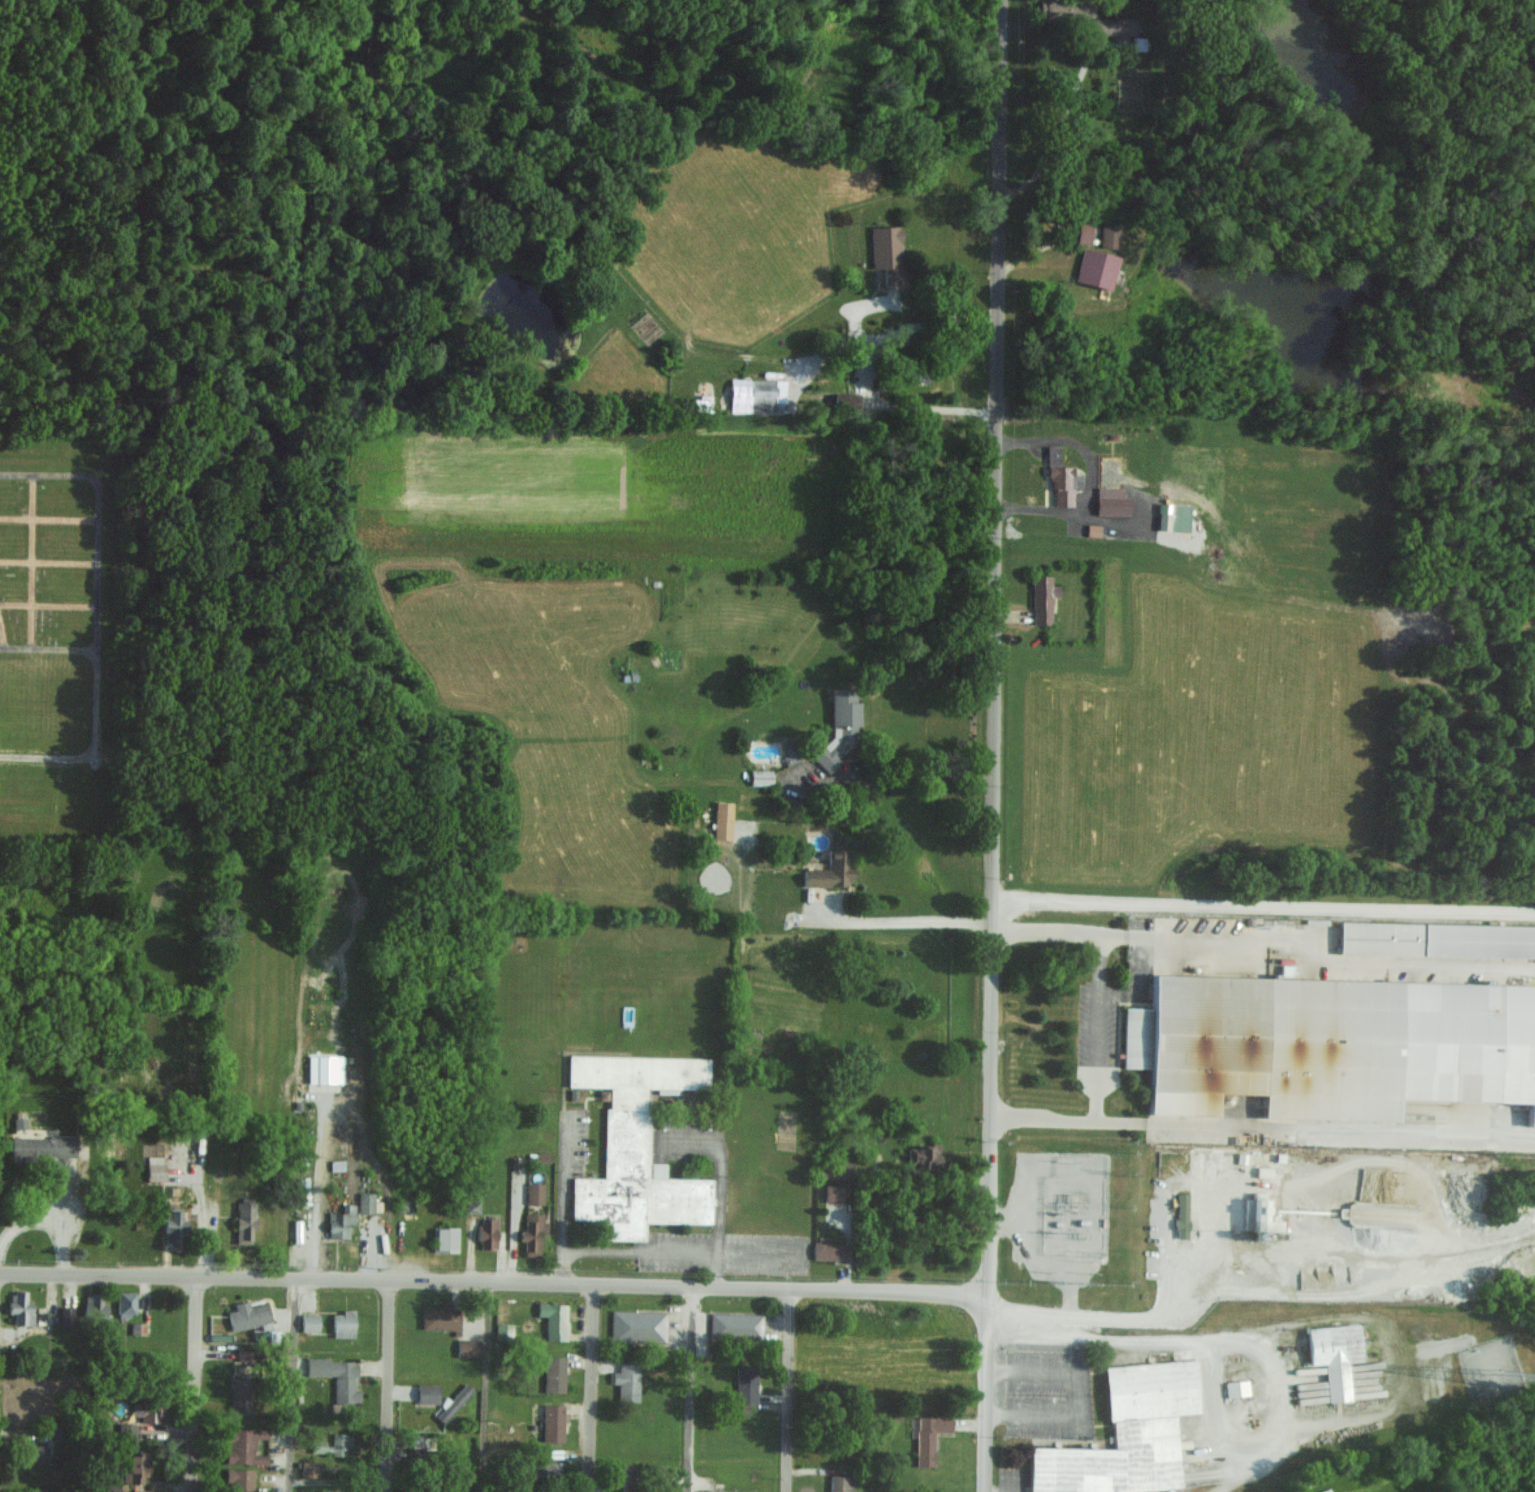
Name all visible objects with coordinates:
building: (1066, 9)
building: (1113, 26)
building: (1136, 43)
building: (1108, 235)
building: (887, 252)
building: (1096, 268)
road: (934, 312)
building: (756, 395)
building: (846, 400)
road: (901, 403)
building: (1054, 455)
building: (1063, 484)
building: (1111, 501)
building: (1173, 517)
building: (1093, 529)
building: (1042, 598)
park: (52, 611)
road: (96, 611)
road: (992, 646)
road: (48, 647)
building: (840, 727)
building: (761, 777)
building: (722, 819)
building: (831, 870)
road: (1263, 909)
road: (896, 922)
road: (1044, 934)
building: (1437, 938)
road: (1315, 953)
road: (1096, 1028)
building: (1332, 1043)
building: (324, 1068)
building: (19, 1120)
road: (1042, 1120)
road: (1314, 1127)
building: (42, 1146)
building: (636, 1146)
building: (923, 1155)
building: (155, 1162)
building: (336, 1164)
building: (835, 1170)
building: (534, 1192)
building: (833, 1192)
building: (365, 1202)
building: (1182, 1214)
building: (1261, 1217)
building: (244, 1221)
building: (339, 1223)
building: (174, 1226)
building: (487, 1233)
building: (532, 1234)
building: (444, 1239)
building: (829, 1250)
road: (1167, 1270)
road: (492, 1277)
building: (126, 1303)
building: (94, 1304)
building: (20, 1307)
building: (66, 1315)
building: (247, 1315)
building: (441, 1317)
building: (554, 1319)
building: (309, 1322)
building: (344, 1323)
building: (735, 1325)
building: (637, 1326)
building: (503, 1331)
road: (1075, 1343)
building: (468, 1347)
building: (247, 1352)
building: (1336, 1355)
building: (553, 1374)
building: (337, 1376)
building: (627, 1380)
road: (196, 1382)
road: (296, 1383)
road: (387, 1383)
road: (485, 1384)
building: (745, 1384)
building: (1236, 1387)
road: (589, 1388)
road: (689, 1390)
road: (788, 1390)
building: (427, 1392)
road: (984, 1392)
road: (1076, 1393)
building: (239, 1395)
building: (452, 1403)
building: (148, 1411)
building: (552, 1423)
building: (126, 1431)
building: (53, 1432)
building: (1127, 1434)
building: (928, 1437)
building: (243, 1445)
building: (332, 1445)
building: (37, 1453)
building: (135, 1466)
building: (552, 1466)
building: (309, 1469)
building: (239, 1480)
building: (840, 1483)
building: (727, 1490)

